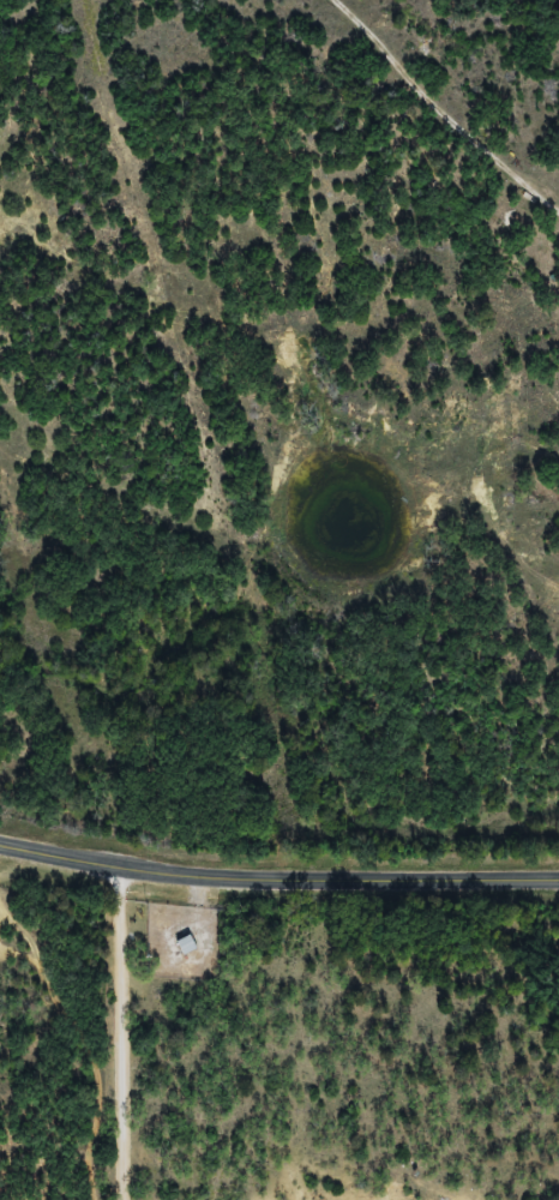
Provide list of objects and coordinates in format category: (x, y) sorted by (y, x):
road: (277, 881)
building: (188, 946)

